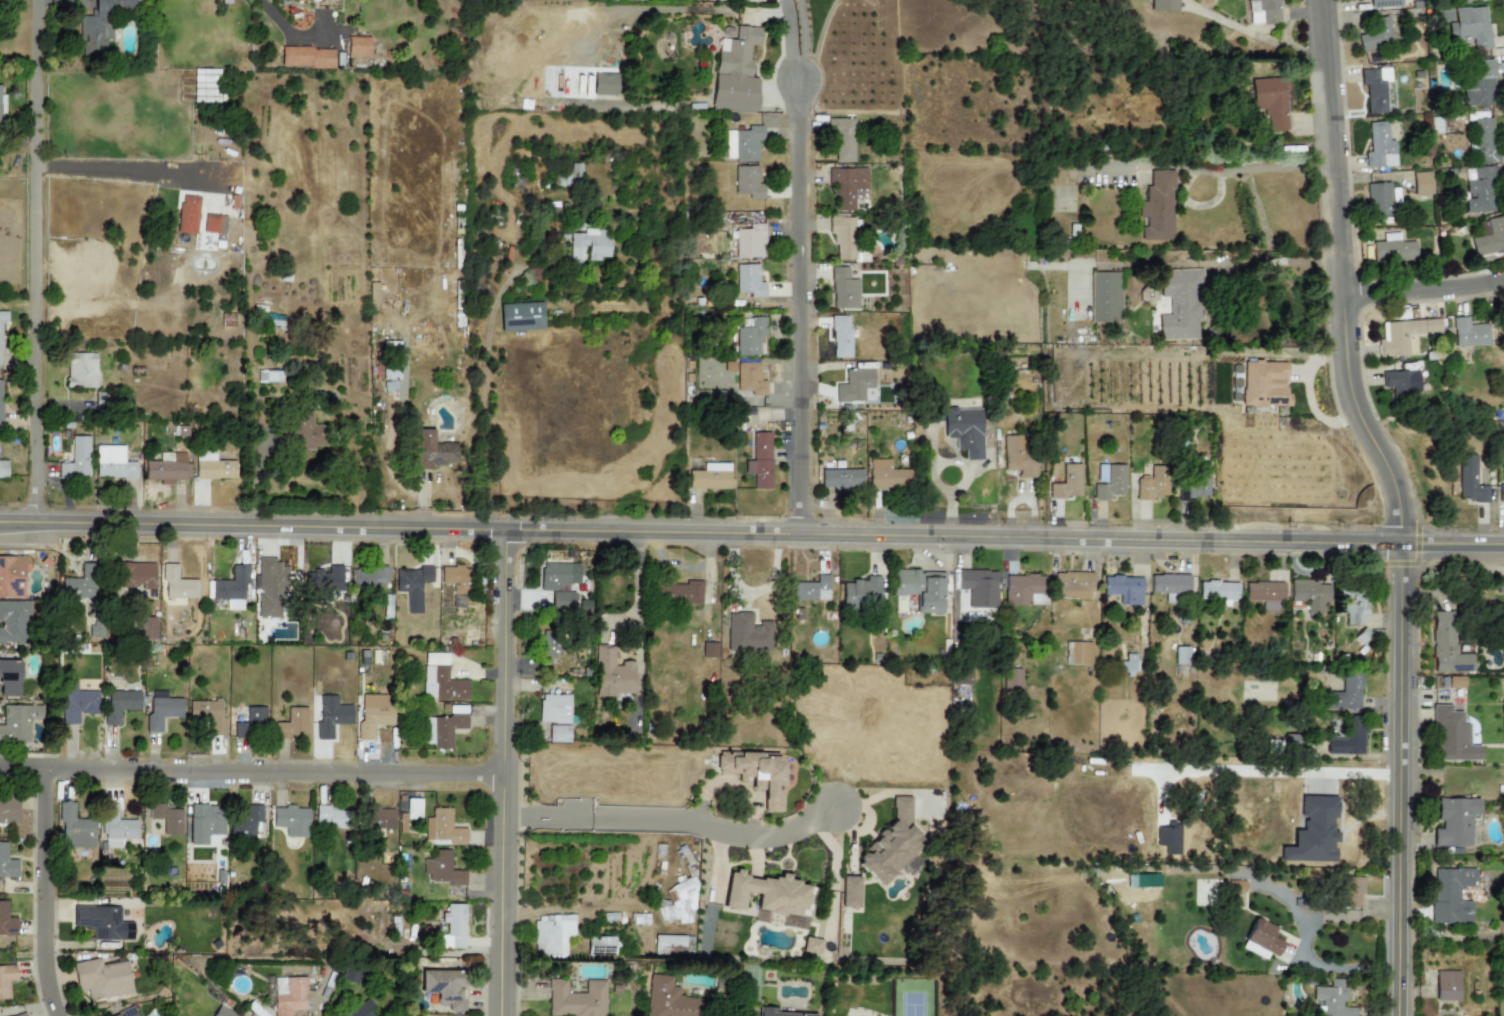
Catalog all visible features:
building: (1385, 4)
building: (1164, 6)
building: (1263, 12)
building: (100, 25)
building: (1472, 27)
building: (1376, 35)
road: (789, 37)
road: (803, 37)
building: (358, 46)
building: (307, 58)
building: (735, 72)
building: (1480, 83)
building: (604, 84)
building: (1374, 90)
building: (2, 104)
building: (1271, 104)
building: (842, 140)
building: (1485, 141)
building: (747, 142)
building: (729, 144)
building: (1379, 146)
road: (128, 168)
road: (1258, 168)
building: (574, 174)
building: (747, 183)
building: (1422, 183)
building: (846, 186)
building: (1480, 191)
building: (1380, 199)
building: (1156, 208)
building: (188, 215)
building: (214, 224)
building: (842, 237)
building: (1489, 237)
building: (750, 241)
building: (588, 245)
building: (1393, 250)
road: (34, 260)
road: (1268, 263)
building: (749, 281)
road: (1418, 284)
building: (843, 289)
building: (1106, 297)
road: (801, 303)
building: (1180, 303)
building: (521, 317)
building: (1468, 333)
building: (749, 335)
building: (840, 336)
building: (1403, 336)
building: (0, 344)
road: (1209, 360)
building: (81, 370)
building: (390, 372)
building: (750, 379)
building: (1264, 384)
building: (1398, 384)
building: (854, 385)
road: (483, 394)
building: (0, 398)
building: (964, 431)
building: (309, 432)
building: (434, 451)
building: (1018, 456)
building: (76, 459)
building: (760, 461)
building: (113, 463)
road: (252, 465)
building: (169, 467)
building: (212, 467)
building: (3, 469)
building: (886, 476)
building: (710, 477)
building: (841, 479)
building: (1109, 481)
building: (1067, 483)
building: (1471, 483)
building: (1153, 484)
building: (1192, 487)
building: (1502, 498)
road: (1394, 501)
road: (751, 532)
building: (136, 575)
building: (558, 575)
building: (12, 576)
building: (369, 576)
building: (330, 579)
building: (456, 579)
building: (177, 584)
building: (80, 585)
building: (1073, 585)
building: (1169, 585)
building: (412, 586)
building: (979, 587)
building: (271, 588)
building: (229, 589)
building: (811, 589)
building: (920, 589)
building: (1123, 589)
building: (1024, 590)
road: (751, 592)
building: (859, 592)
building: (1218, 592)
building: (682, 593)
building: (1265, 594)
building: (1310, 594)
building: (562, 601)
building: (1354, 610)
road: (637, 611)
building: (14, 622)
building: (148, 627)
building: (93, 631)
building: (747, 634)
building: (551, 645)
building: (1447, 646)
building: (1077, 653)
building: (1181, 655)
building: (1128, 664)
building: (612, 674)
building: (9, 678)
building: (441, 679)
building: (1011, 682)
building: (1347, 694)
building: (77, 706)
building: (118, 706)
building: (554, 709)
building: (161, 710)
building: (208, 715)
building: (332, 717)
building: (373, 719)
building: (18, 722)
building: (252, 723)
building: (292, 723)
building: (448, 727)
building: (559, 734)
building: (1453, 736)
building: (1350, 738)
road: (252, 770)
road: (505, 772)
building: (757, 775)
building: (8, 809)
building: (414, 809)
building: (335, 818)
building: (378, 818)
building: (168, 819)
road: (684, 819)
building: (292, 821)
building: (205, 823)
building: (246, 823)
building: (1454, 823)
building: (443, 828)
building: (74, 829)
building: (117, 829)
building: (1314, 832)
building: (894, 847)
building: (6, 863)
building: (443, 870)
building: (1238, 891)
building: (850, 892)
road: (45, 893)
building: (1353, 893)
building: (1451, 895)
building: (769, 898)
building: (679, 904)
building: (7, 922)
building: (103, 923)
building: (453, 928)
building: (553, 935)
building: (1262, 940)
road: (1302, 944)
building: (669, 945)
building: (811, 945)
building: (600, 947)
building: (102, 978)
building: (6, 980)
building: (1447, 985)
building: (445, 987)
building: (289, 995)
building: (1334, 998)
building: (576, 999)
building: (670, 1000)
building: (361, 1010)
building: (767, 1010)
building: (221, 1012)
building: (127, 1013)
building: (19, 1015)

